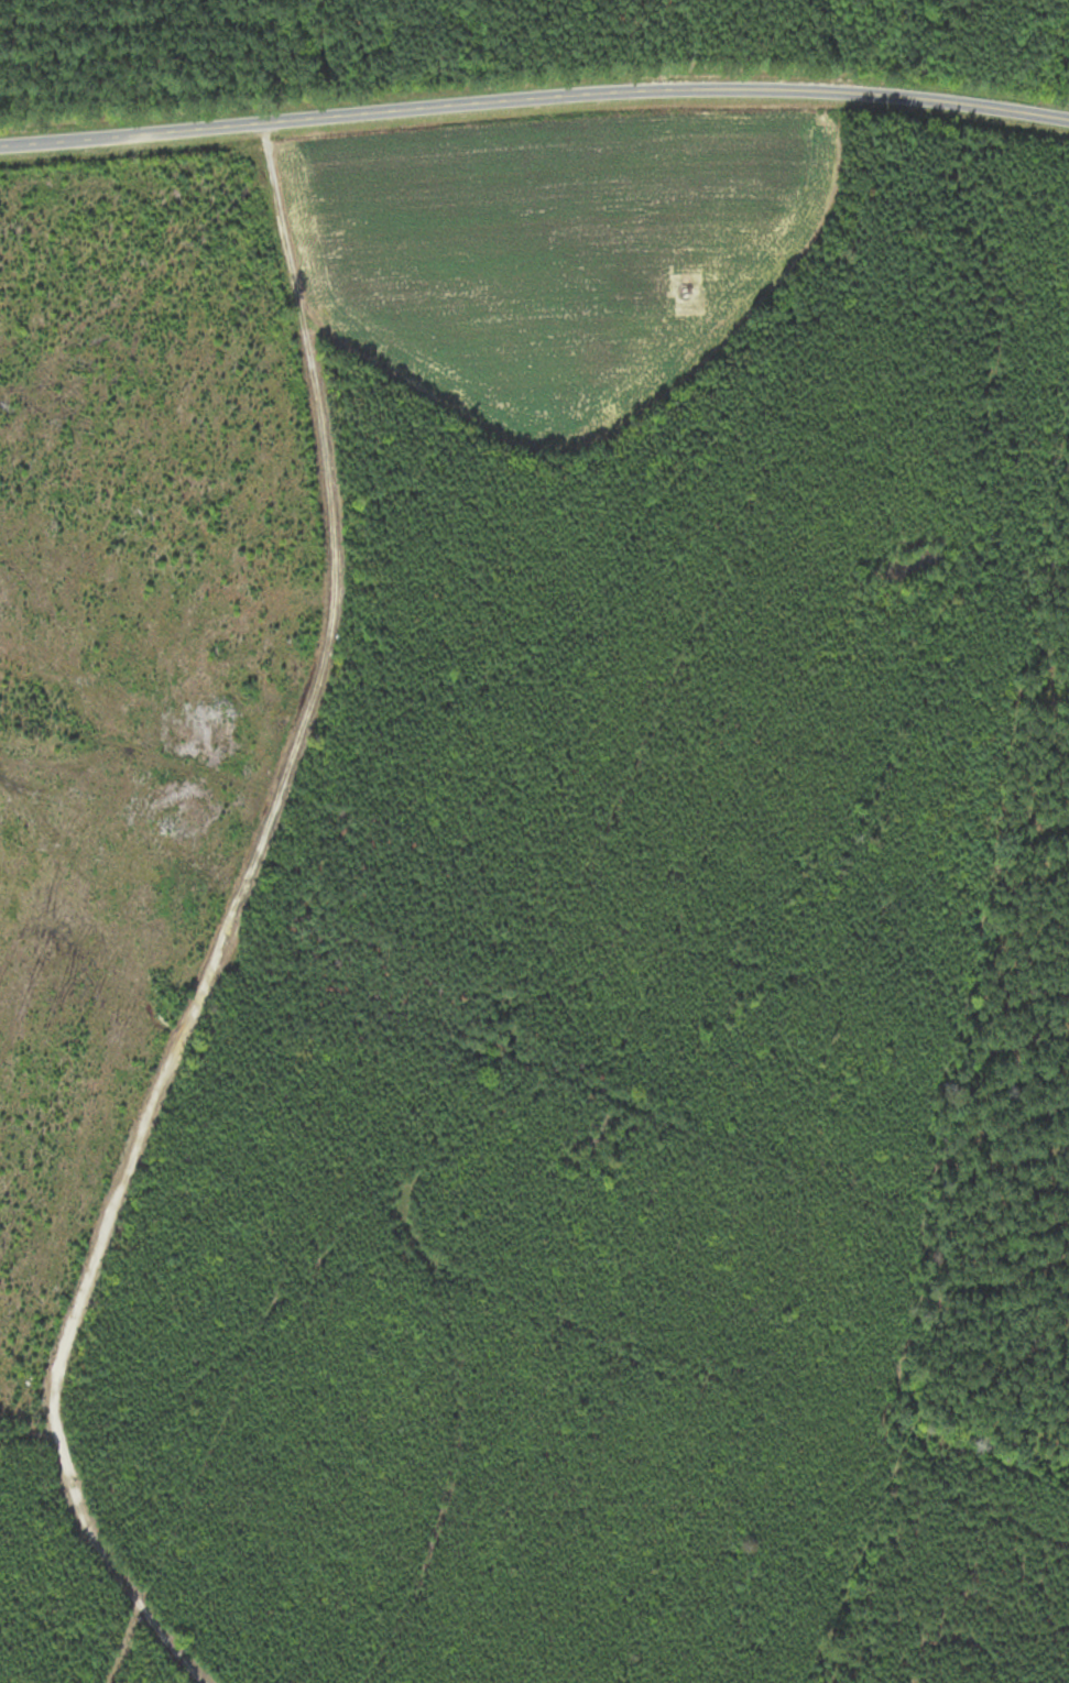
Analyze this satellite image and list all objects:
road: (534, 99)

